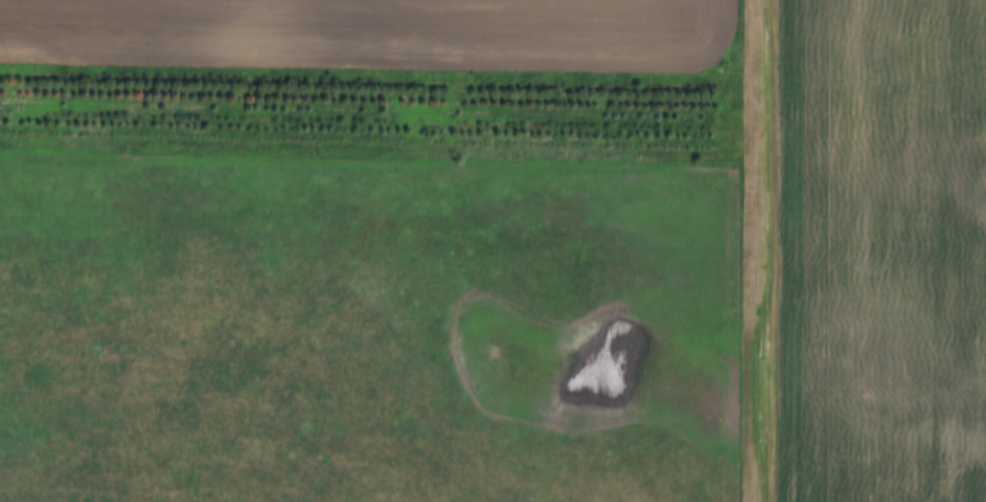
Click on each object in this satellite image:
road: (763, 250)

